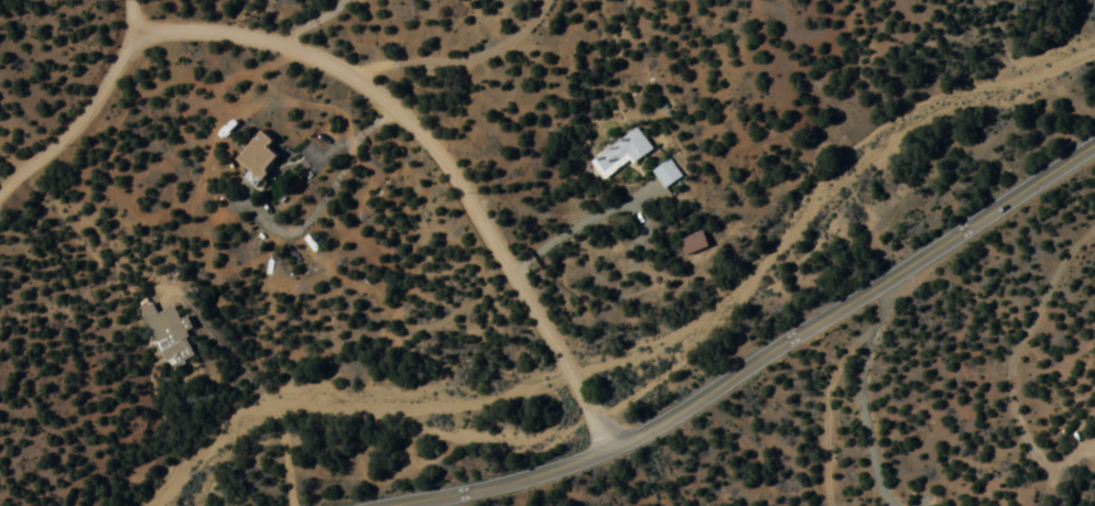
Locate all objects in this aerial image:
road: (389, 107)
road: (90, 108)
building: (620, 154)
building: (258, 155)
building: (665, 174)
building: (692, 243)
building: (167, 334)
road: (761, 359)
road: (263, 377)
road: (583, 389)
road: (895, 420)
road: (702, 455)

